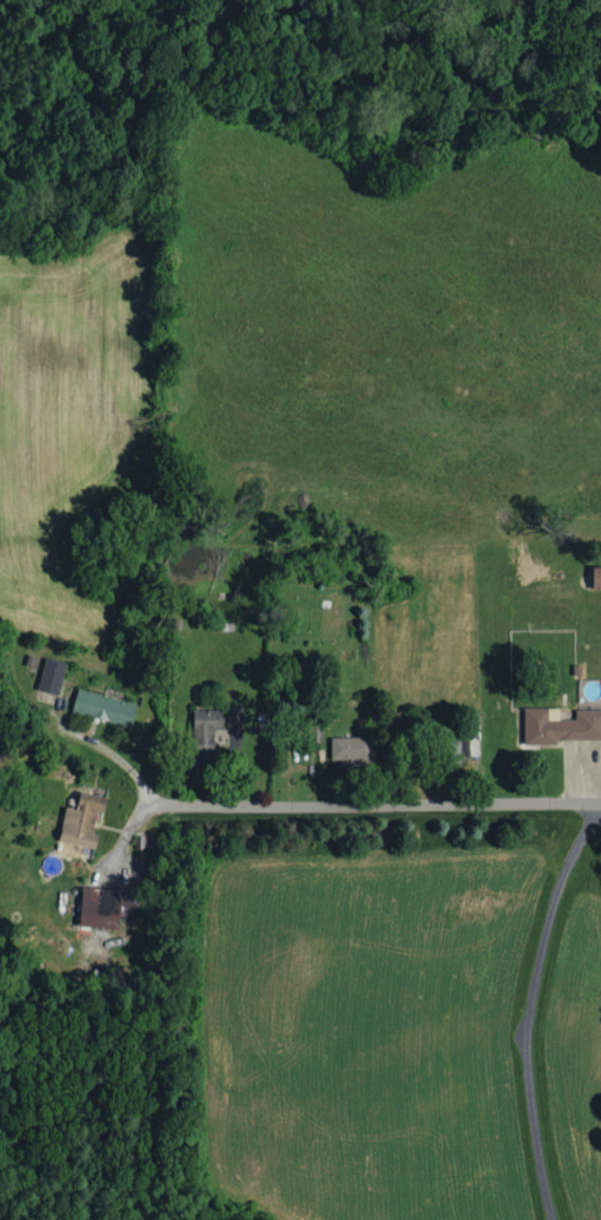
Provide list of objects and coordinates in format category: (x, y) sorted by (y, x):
building: (596, 578)
building: (51, 676)
building: (104, 707)
building: (234, 714)
building: (562, 727)
building: (205, 736)
building: (351, 750)
road: (317, 800)
building: (83, 818)
building: (105, 909)
road: (537, 1016)

